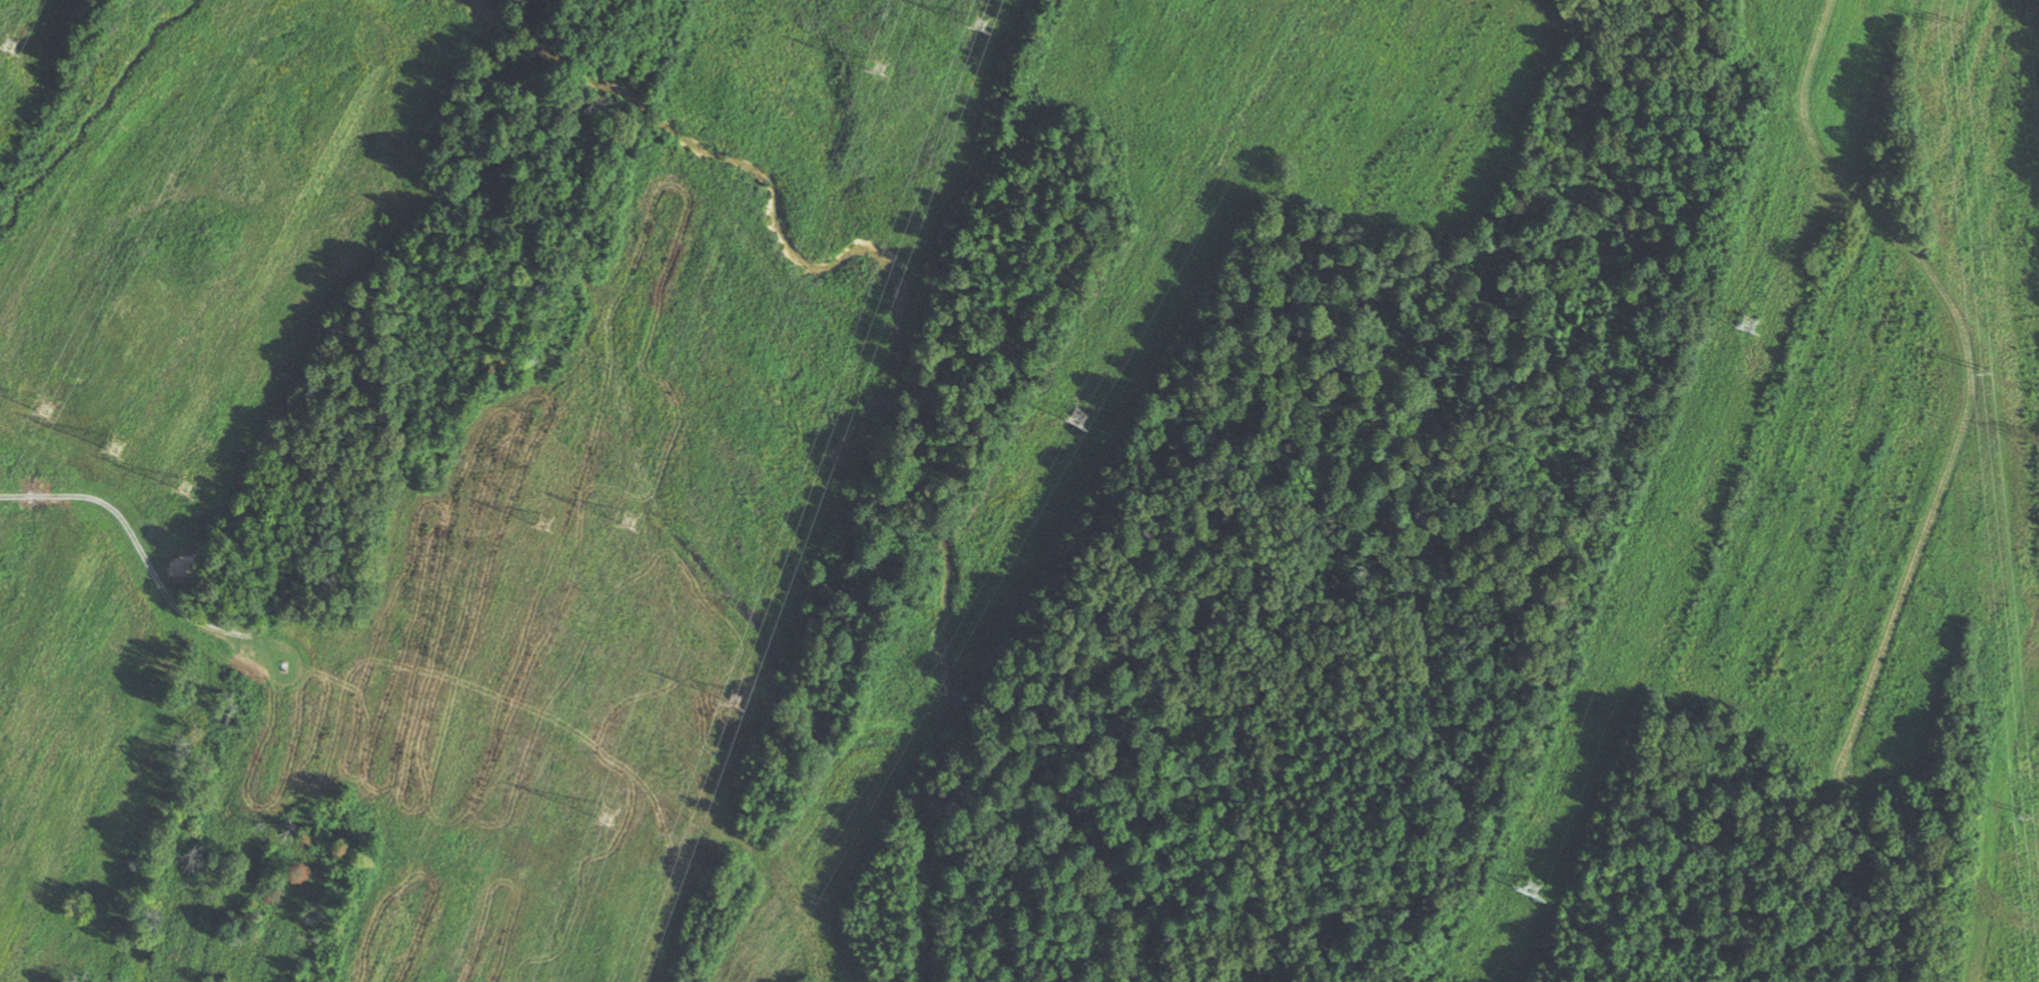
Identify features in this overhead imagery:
power tower: (1949, 22)
power tower: (977, 26)
power tower: (8, 41)
power tower: (873, 68)
power tower: (1748, 323)
power tower: (1985, 366)
power tower: (44, 406)
power tower: (1078, 418)
power tower: (114, 466)
power tower: (184, 486)
power tower: (627, 520)
power tower: (543, 526)
power tower: (735, 695)
power tower: (2024, 813)
power tower: (606, 816)
power tower: (1533, 891)

